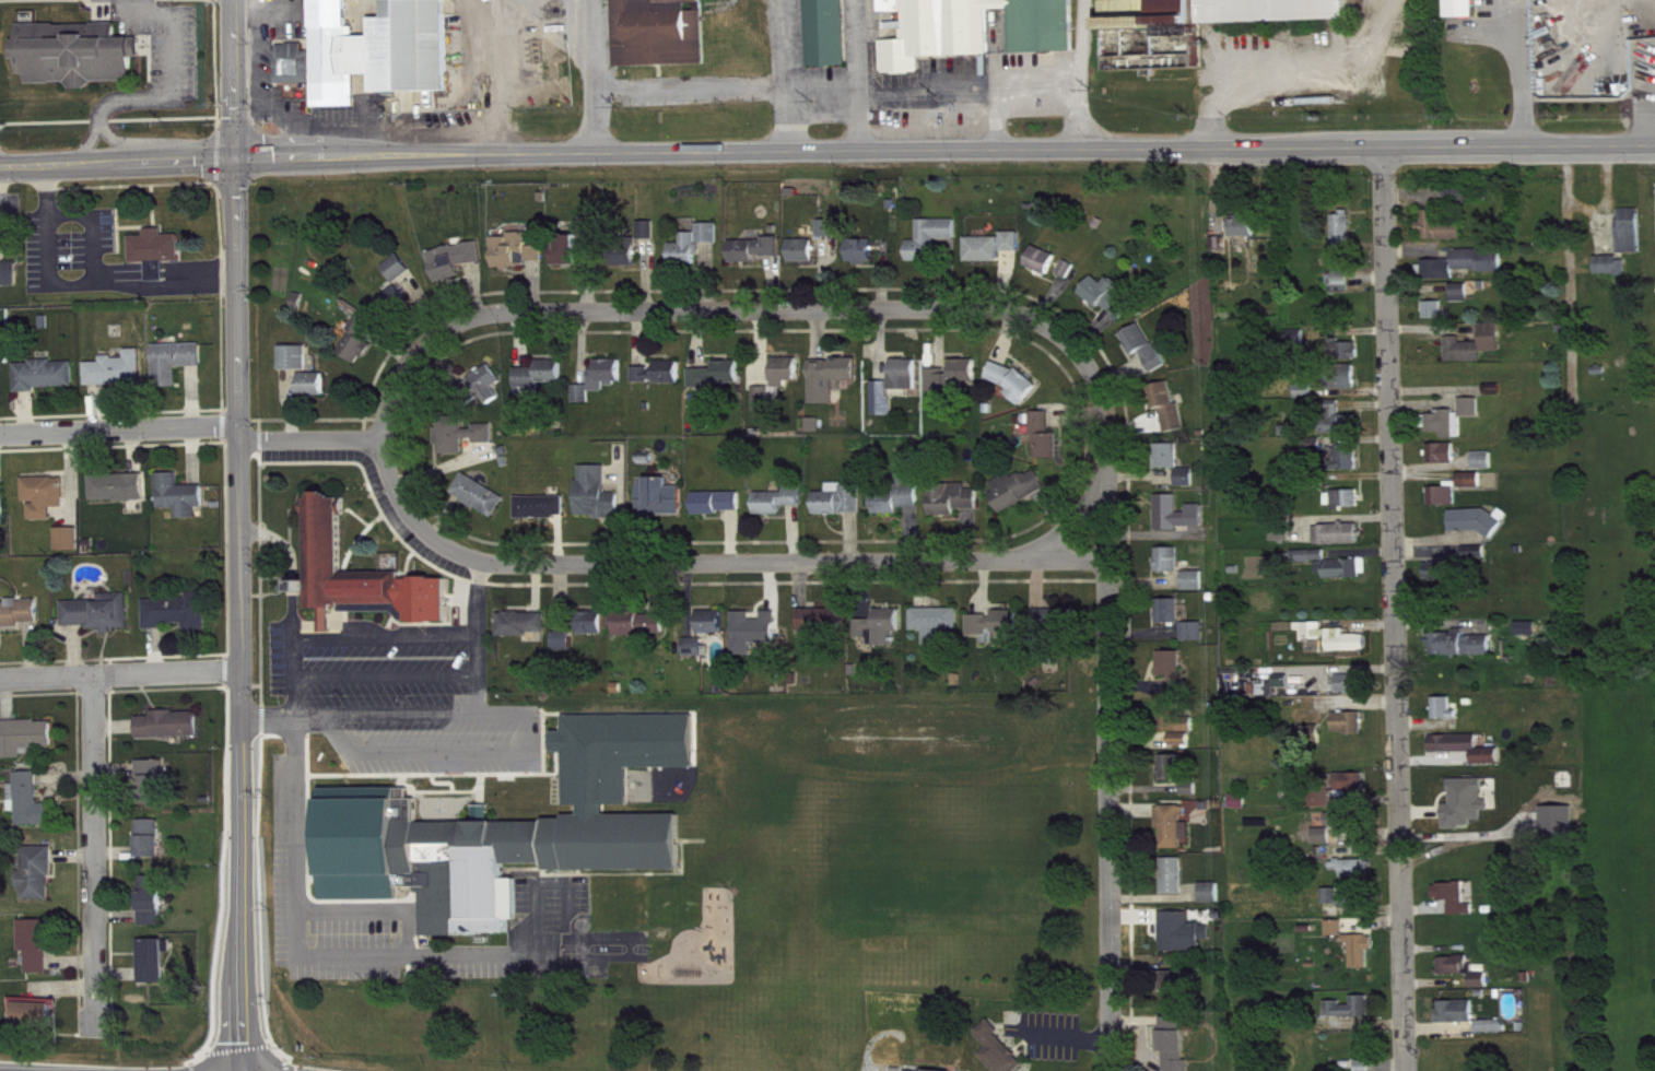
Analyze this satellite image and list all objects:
road: (245, 9)
building: (1465, 12)
building: (1226, 19)
building: (978, 33)
building: (661, 37)
building: (830, 37)
building: (380, 57)
building: (79, 62)
road: (1290, 71)
building: (296, 72)
road: (1518, 74)
road: (789, 76)
road: (861, 76)
road: (592, 78)
road: (231, 79)
road: (495, 79)
road: (691, 87)
road: (259, 89)
road: (996, 107)
road: (1002, 130)
road: (942, 153)
traffic signals: (230, 158)
road: (115, 164)
road: (1605, 192)
building: (1460, 202)
building: (594, 233)
building: (1247, 235)
building: (1443, 236)
building: (831, 237)
building: (652, 238)
building: (1346, 238)
building: (1632, 239)
building: (711, 242)
building: (934, 248)
building: (995, 256)
building: (756, 258)
building: (514, 259)
building: (570, 259)
building: (688, 259)
building: (806, 259)
building: (159, 260)
building: (865, 261)
building: (539, 262)
building: (631, 262)
building: (457, 269)
building: (1045, 269)
road: (1568, 271)
building: (1467, 272)
building: (1610, 273)
building: (400, 276)
building: (9, 278)
building: (1070, 278)
building: (1345, 290)
building: (1463, 302)
building: (1108, 305)
road: (750, 307)
building: (397, 308)
building: (1436, 318)
building: (361, 346)
building: (1478, 353)
building: (1147, 356)
building: (1349, 358)
building: (296, 366)
building: (179, 369)
building: (120, 379)
building: (788, 380)
building: (609, 381)
building: (661, 381)
building: (47, 384)
building: (542, 384)
building: (718, 384)
building: (956, 385)
building: (1, 386)
building: (1348, 386)
building: (833, 387)
building: (1017, 390)
building: (489, 391)
building: (316, 392)
building: (897, 396)
building: (1307, 399)
building: (584, 402)
building: (765, 408)
building: (1171, 415)
road: (119, 427)
building: (1456, 427)
building: (1341, 428)
road: (310, 437)
building: (463, 444)
building: (1047, 445)
building: (1444, 462)
building: (1171, 464)
building: (1347, 467)
building: (1486, 469)
building: (1188, 485)
building: (1472, 489)
building: (121, 496)
building: (1020, 497)
building: (598, 503)
building: (482, 504)
building: (46, 505)
building: (183, 505)
building: (1445, 505)
building: (661, 506)
building: (900, 507)
building: (955, 507)
building: (843, 508)
building: (1348, 508)
building: (780, 509)
building: (3, 510)
building: (720, 510)
building: (543, 516)
building: (1181, 521)
road: (1066, 522)
building: (1479, 529)
building: (1283, 538)
building: (1339, 543)
building: (70, 548)
road: (709, 560)
building: (1478, 561)
building: (1335, 573)
building: (1182, 577)
building: (1443, 579)
building: (361, 585)
road: (1397, 610)
road: (240, 614)
building: (1172, 620)
building: (102, 621)
building: (180, 621)
building: (19, 622)
building: (822, 629)
building: (1056, 629)
building: (714, 631)
building: (1009, 631)
building: (525, 632)
building: (595, 632)
building: (938, 632)
building: (643, 633)
road: (477, 635)
building: (883, 636)
building: (984, 636)
road: (385, 637)
building: (1529, 637)
building: (756, 639)
building: (1197, 640)
building: (1336, 646)
building: (565, 650)
building: (1462, 652)
building: (697, 656)
road: (293, 671)
road: (120, 672)
road: (385, 675)
building: (1174, 678)
building: (1352, 692)
parking lot: (402, 695)
building: (1440, 704)
building: (1345, 718)
building: (1446, 718)
road: (285, 719)
building: (1351, 731)
building: (172, 733)
road: (531, 739)
building: (1460, 743)
building: (26, 745)
building: (1179, 749)
road: (1110, 756)
building: (1468, 756)
building: (1175, 776)
building: (1346, 777)
building: (156, 790)
building: (1352, 792)
building: (1192, 798)
building: (1462, 798)
building: (1325, 809)
building: (32, 810)
building: (508, 826)
building: (1340, 827)
building: (1178, 835)
road: (96, 845)
building: (1325, 845)
building: (152, 847)
building: (1350, 863)
building: (1352, 876)
building: (39, 882)
building: (1175, 885)
building: (1449, 893)
building: (1213, 902)
building: (1347, 905)
building: (1456, 906)
building: (153, 909)
building: (1337, 937)
building: (1184, 941)
building: (39, 953)
building: (1363, 960)
building: (155, 969)
building: (1467, 978)
building: (1182, 997)
building: (1352, 1016)
building: (1463, 1021)
building: (36, 1022)
building: (1494, 1035)
building: (1177, 1048)
building: (997, 1054)
building: (1366, 1070)

